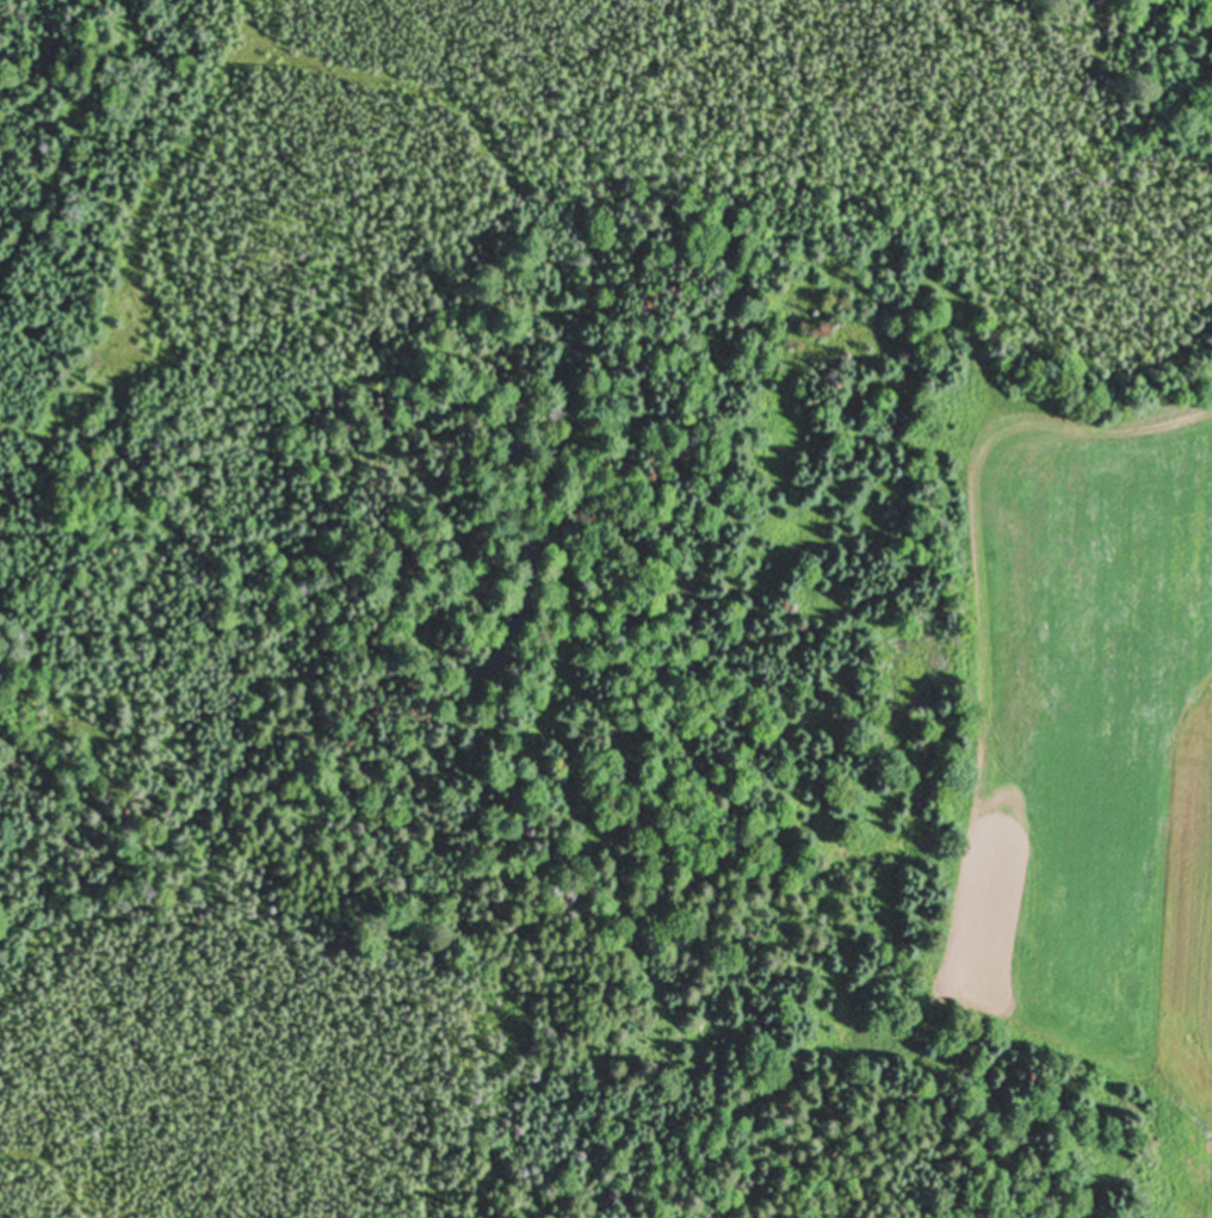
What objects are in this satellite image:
crop: (1090, 759)

